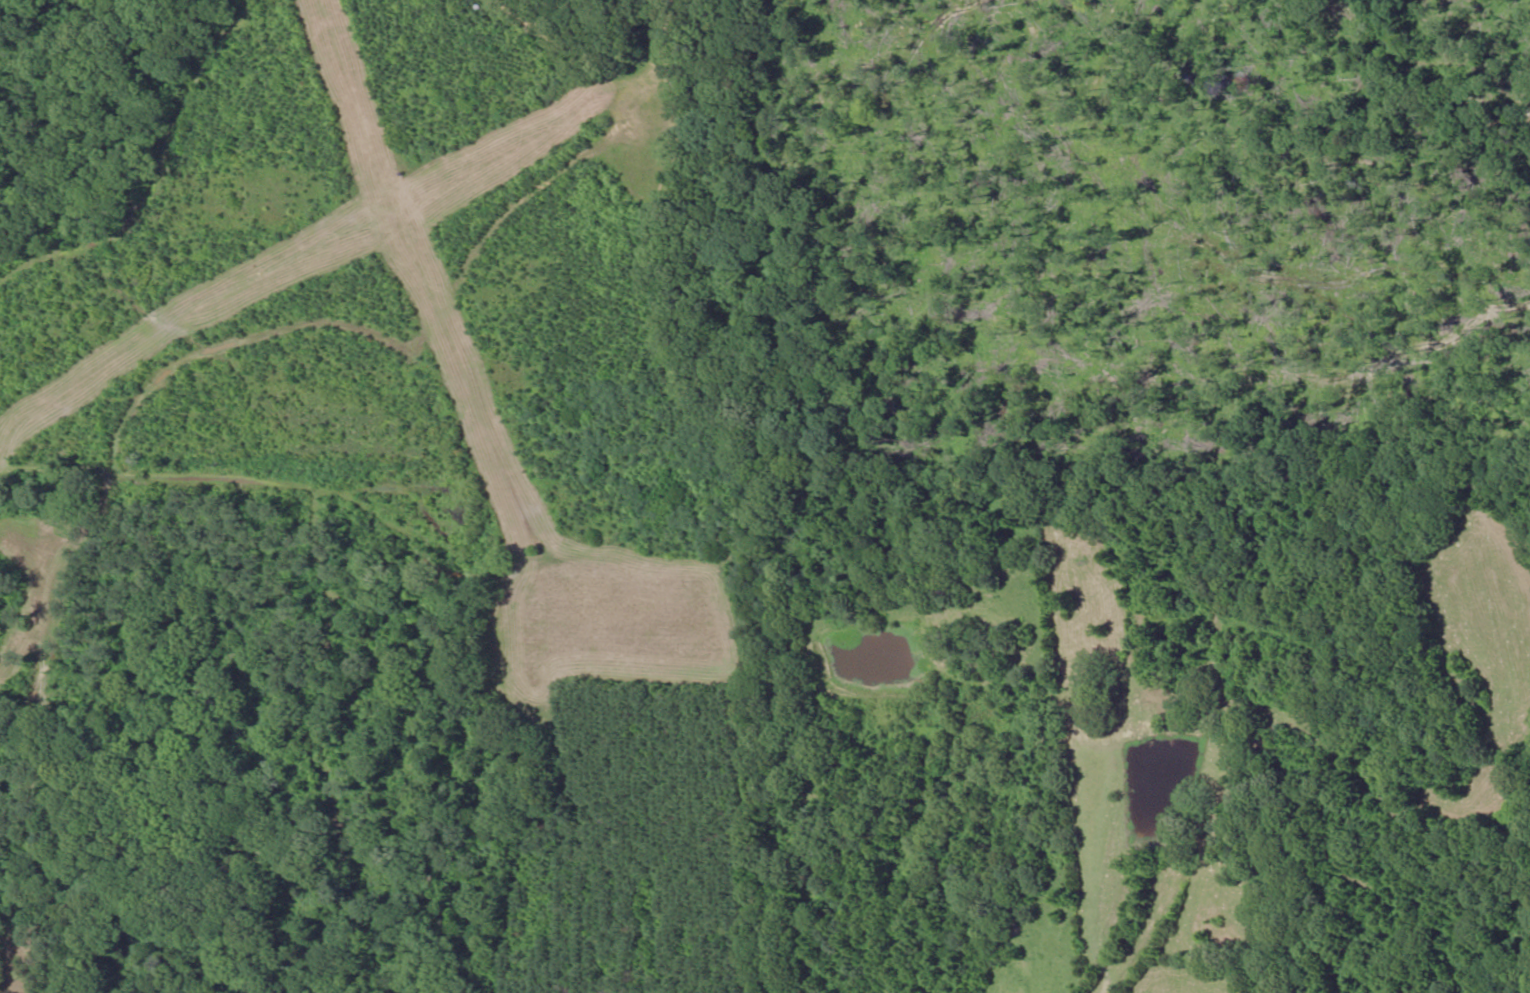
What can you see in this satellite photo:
road: (1096, 919)

